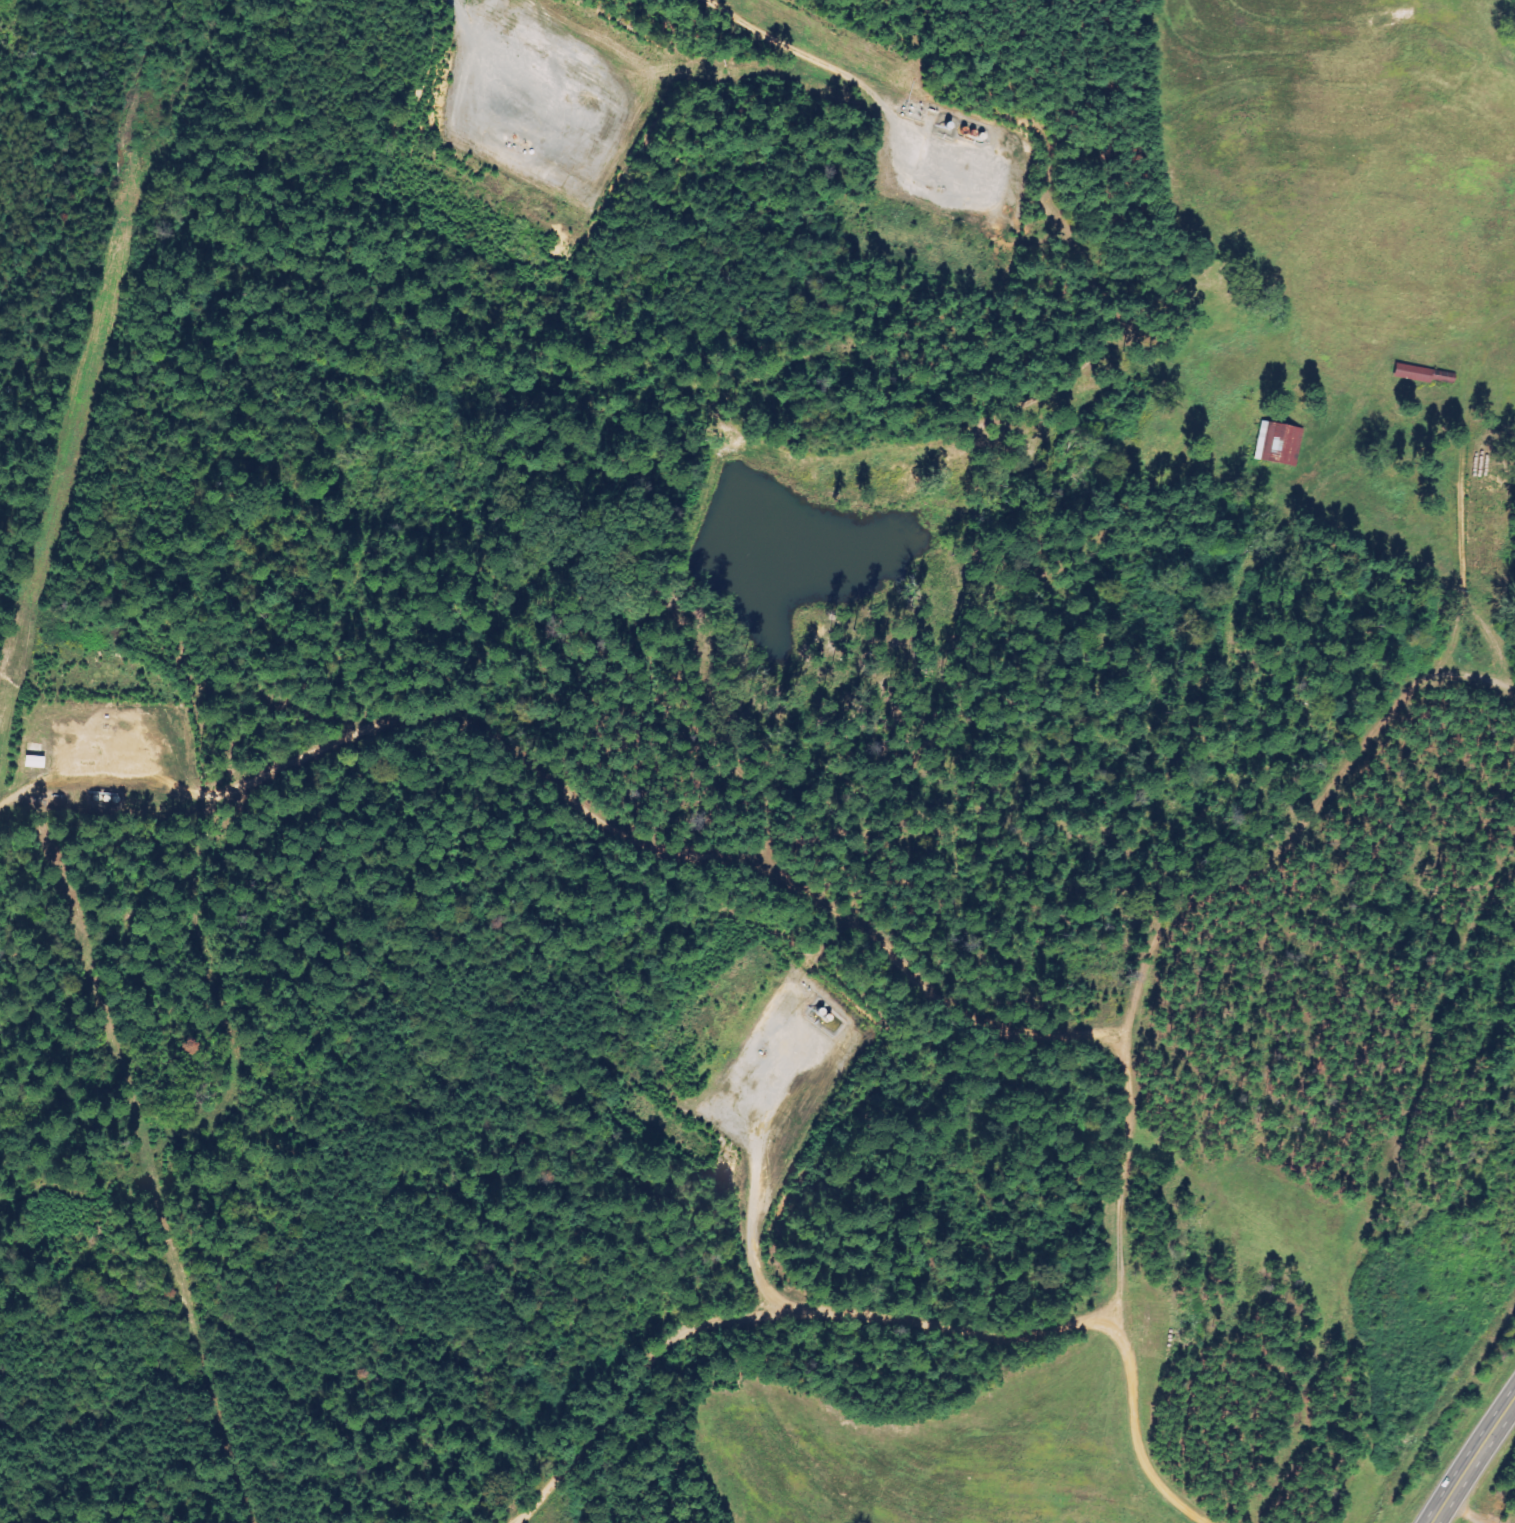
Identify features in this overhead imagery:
building: (1412, 373)
building: (1277, 444)
road: (1471, 1459)

